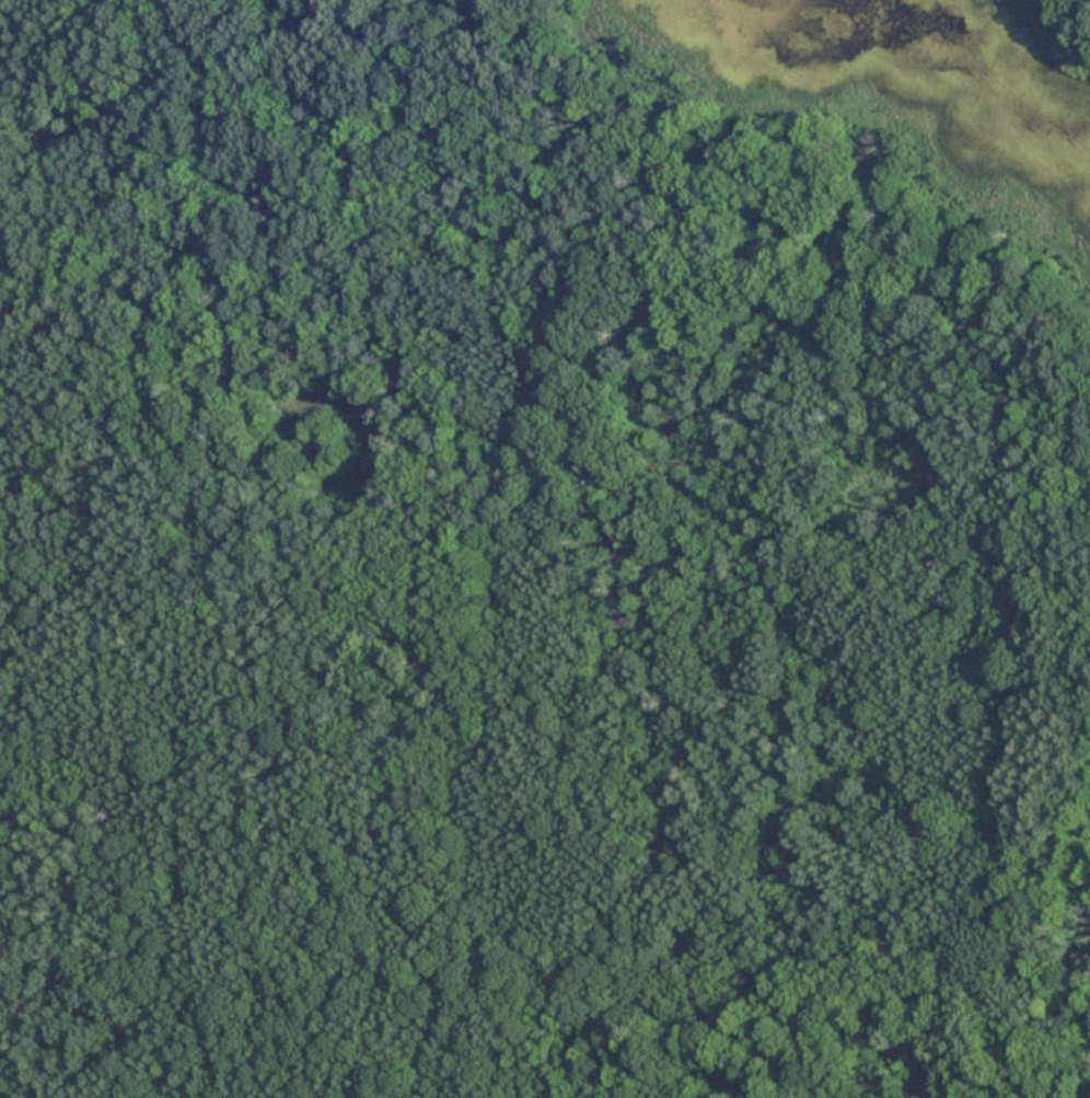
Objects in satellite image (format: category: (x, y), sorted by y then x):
park: (545, 548)

